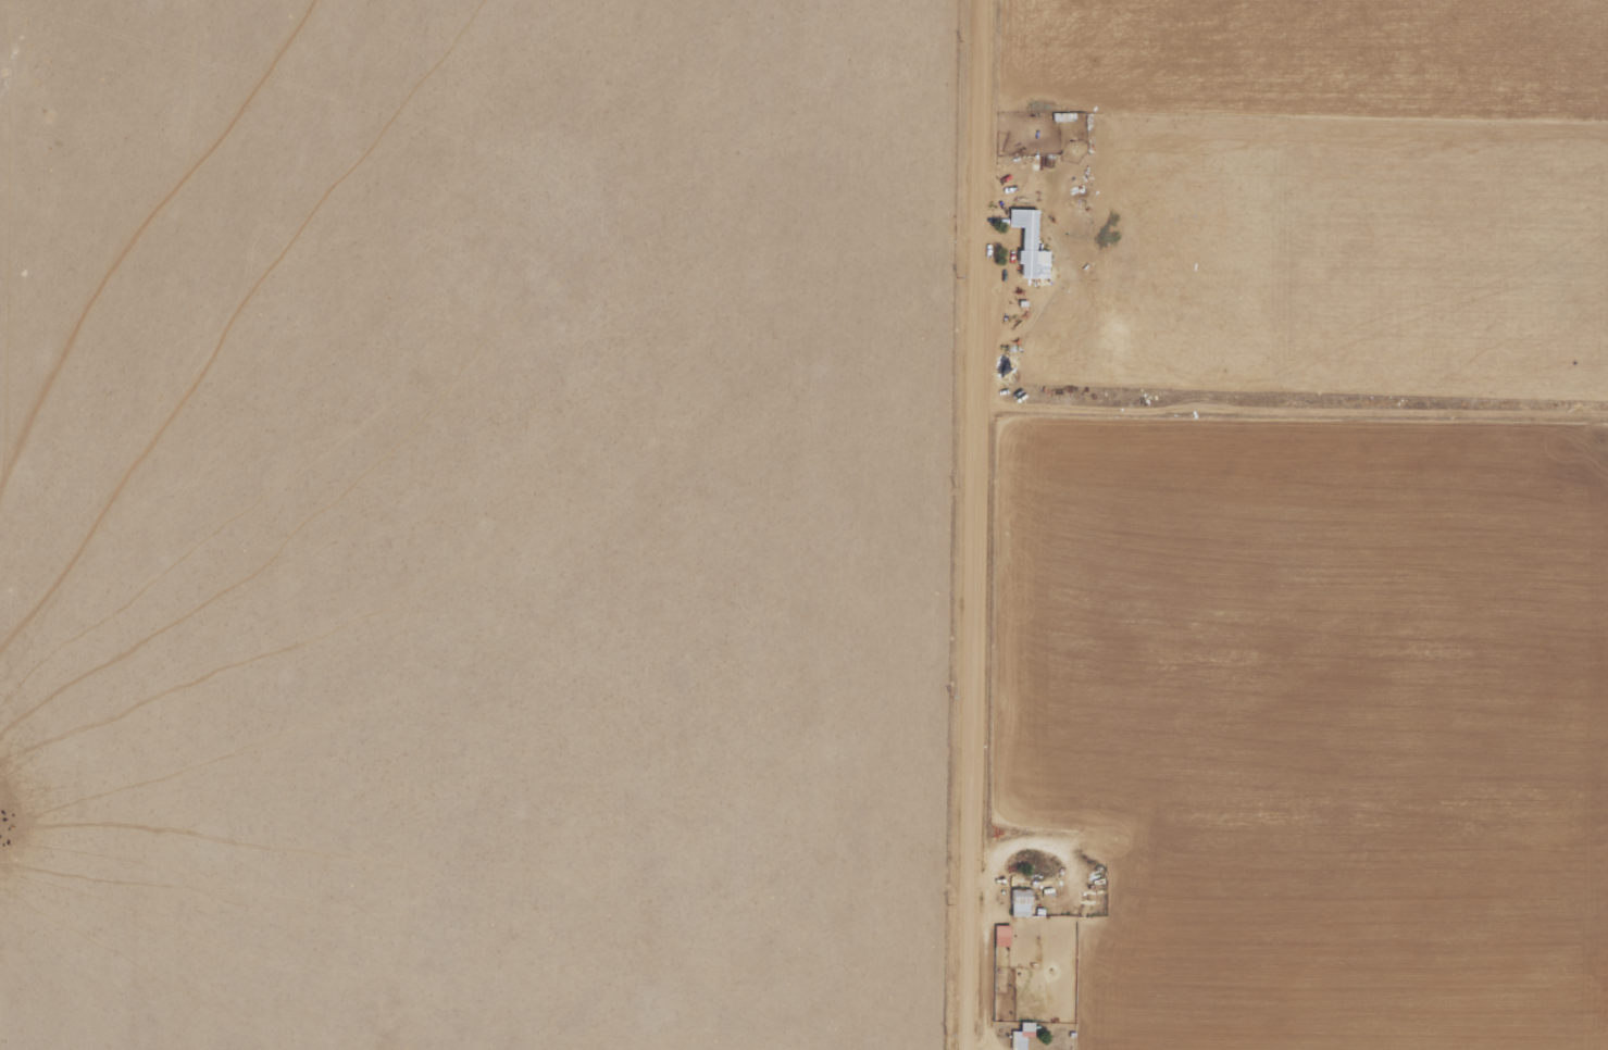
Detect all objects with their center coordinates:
building: (1031, 245)
road: (975, 525)
building: (1022, 902)
building: (1004, 936)
building: (1024, 1036)

